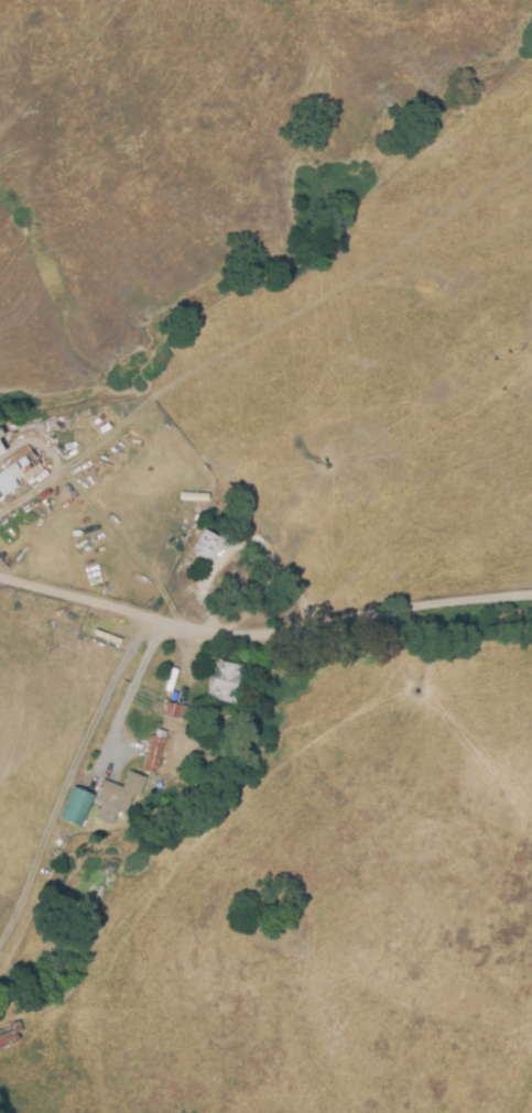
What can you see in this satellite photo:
building: (1, 450)
building: (15, 472)
road: (31, 492)
road: (127, 493)
road: (102, 517)
road: (252, 535)
building: (206, 546)
road: (211, 605)
road: (263, 630)
building: (225, 683)
building: (152, 754)
road: (75, 762)
building: (117, 796)
building: (76, 806)

